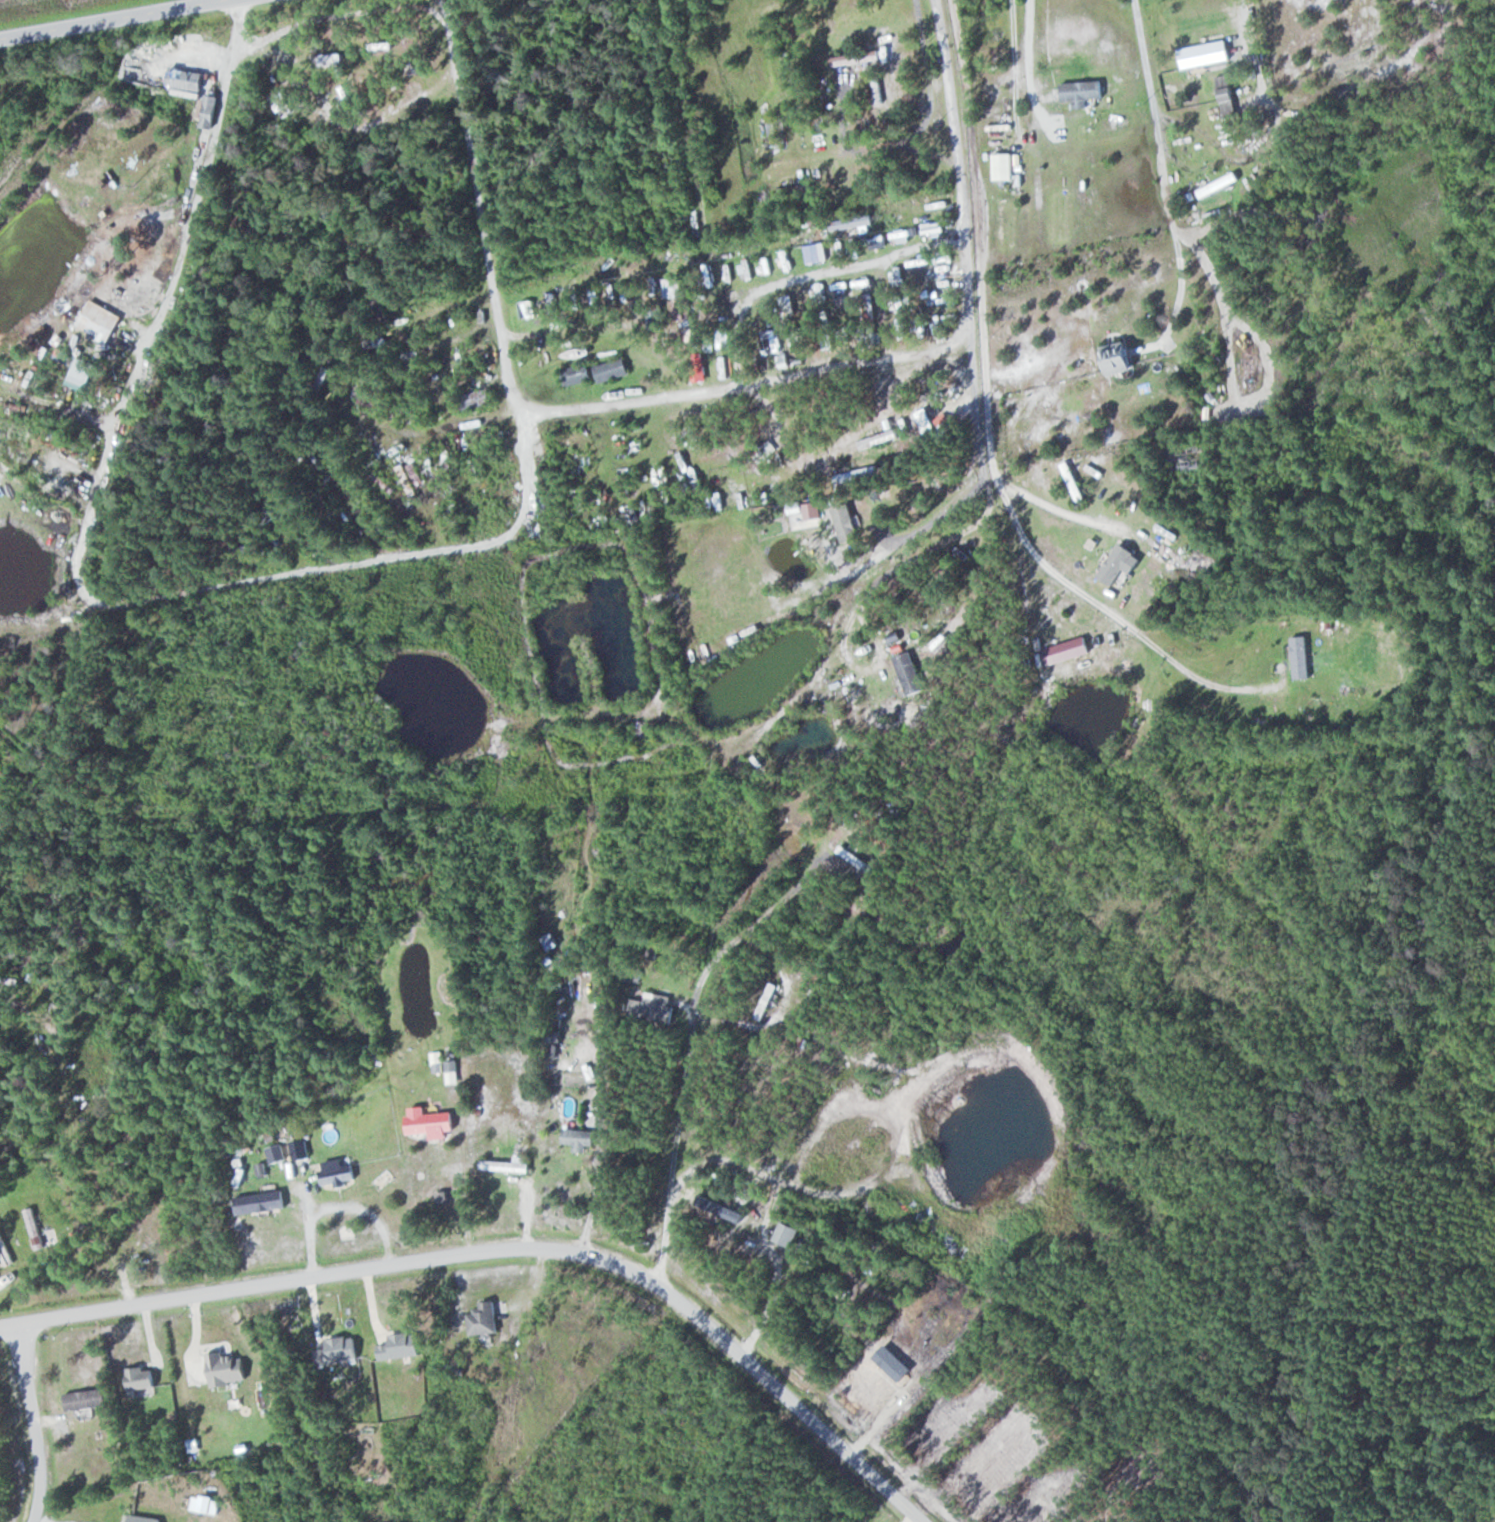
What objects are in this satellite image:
road: (99, 16)
road: (1140, 26)
building: (1206, 54)
building: (330, 59)
building: (187, 84)
building: (1096, 86)
building: (879, 89)
building: (1119, 123)
road: (1385, 154)
building: (1006, 166)
building: (1218, 185)
building: (801, 189)
building: (854, 222)
building: (604, 229)
building: (821, 252)
building: (384, 310)
building: (101, 323)
building: (774, 340)
building: (1120, 358)
building: (613, 369)
building: (577, 374)
building: (324, 376)
road: (717, 384)
building: (476, 399)
building: (878, 439)
building: (1188, 457)
building: (859, 478)
building: (250, 550)
building: (1120, 564)
building: (1069, 651)
building: (1302, 657)
building: (911, 672)
building: (856, 858)
building: (551, 942)
building: (768, 1001)
building: (653, 1008)
building: (38, 1036)
building: (453, 1072)
building: (431, 1122)
building: (580, 1139)
building: (301, 1150)
building: (517, 1166)
building: (338, 1172)
building: (261, 1202)
building: (710, 1205)
building: (36, 1228)
building: (789, 1234)
road: (644, 1281)
road: (142, 1301)
building: (485, 1319)
building: (87, 1399)
road: (33, 1422)

